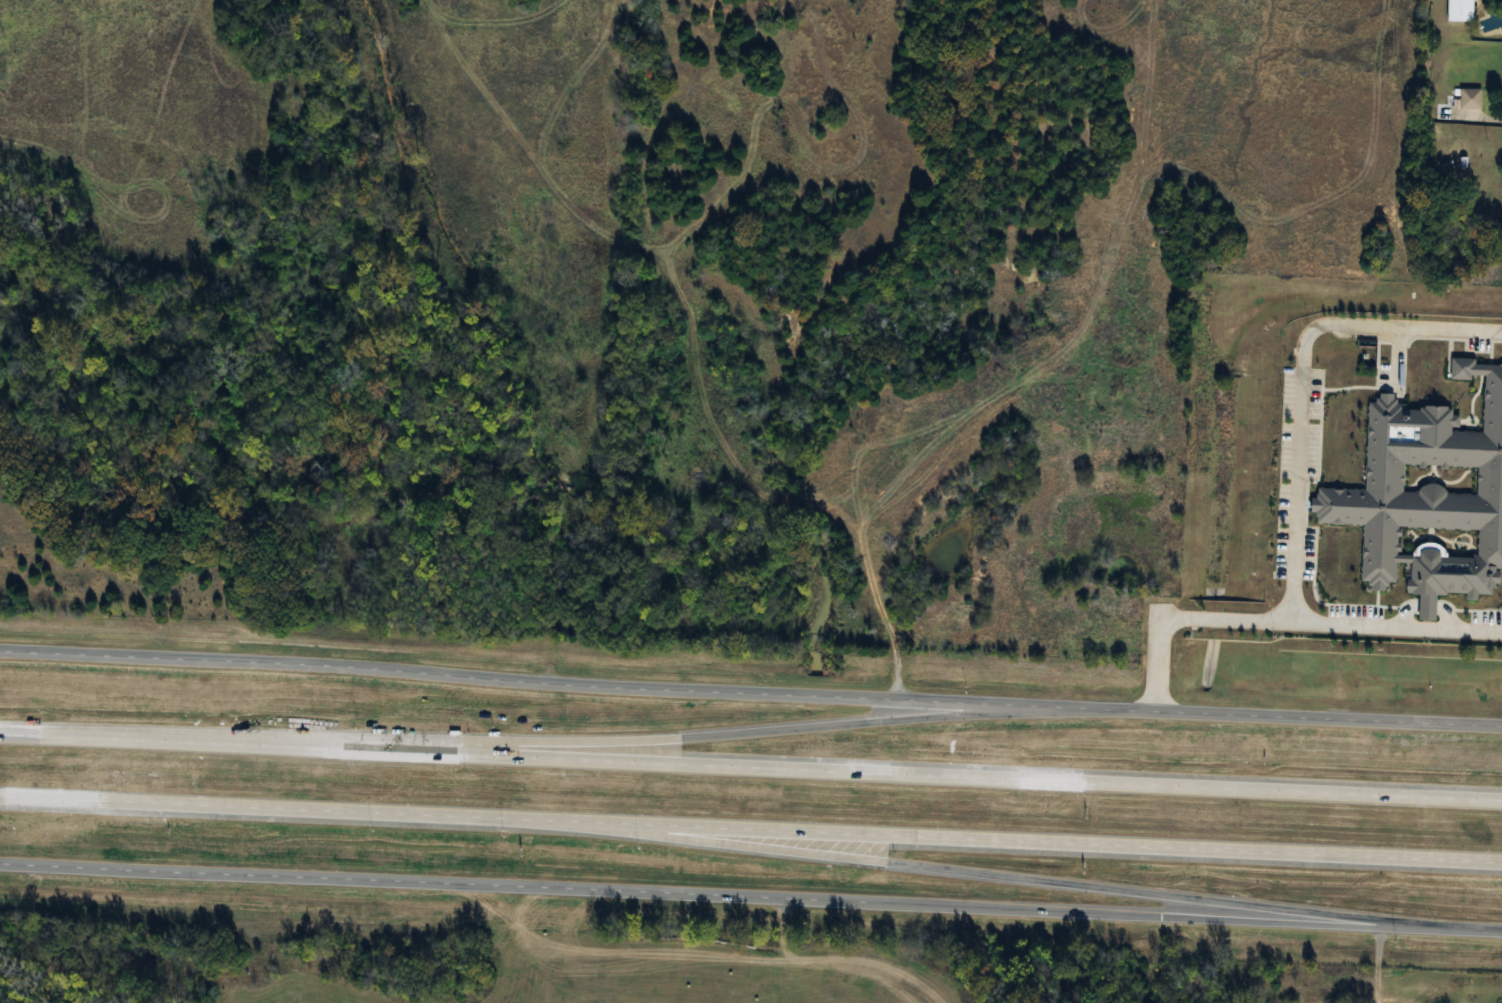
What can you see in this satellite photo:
building: (1458, 11)
building: (1469, 96)
road: (1477, 116)
road: (1295, 485)
building: (1428, 496)
road: (1395, 626)
road: (750, 692)
road: (710, 735)
road: (751, 765)
road: (750, 829)
road: (1006, 876)
road: (425, 883)
road: (1176, 916)
road: (1373, 962)

